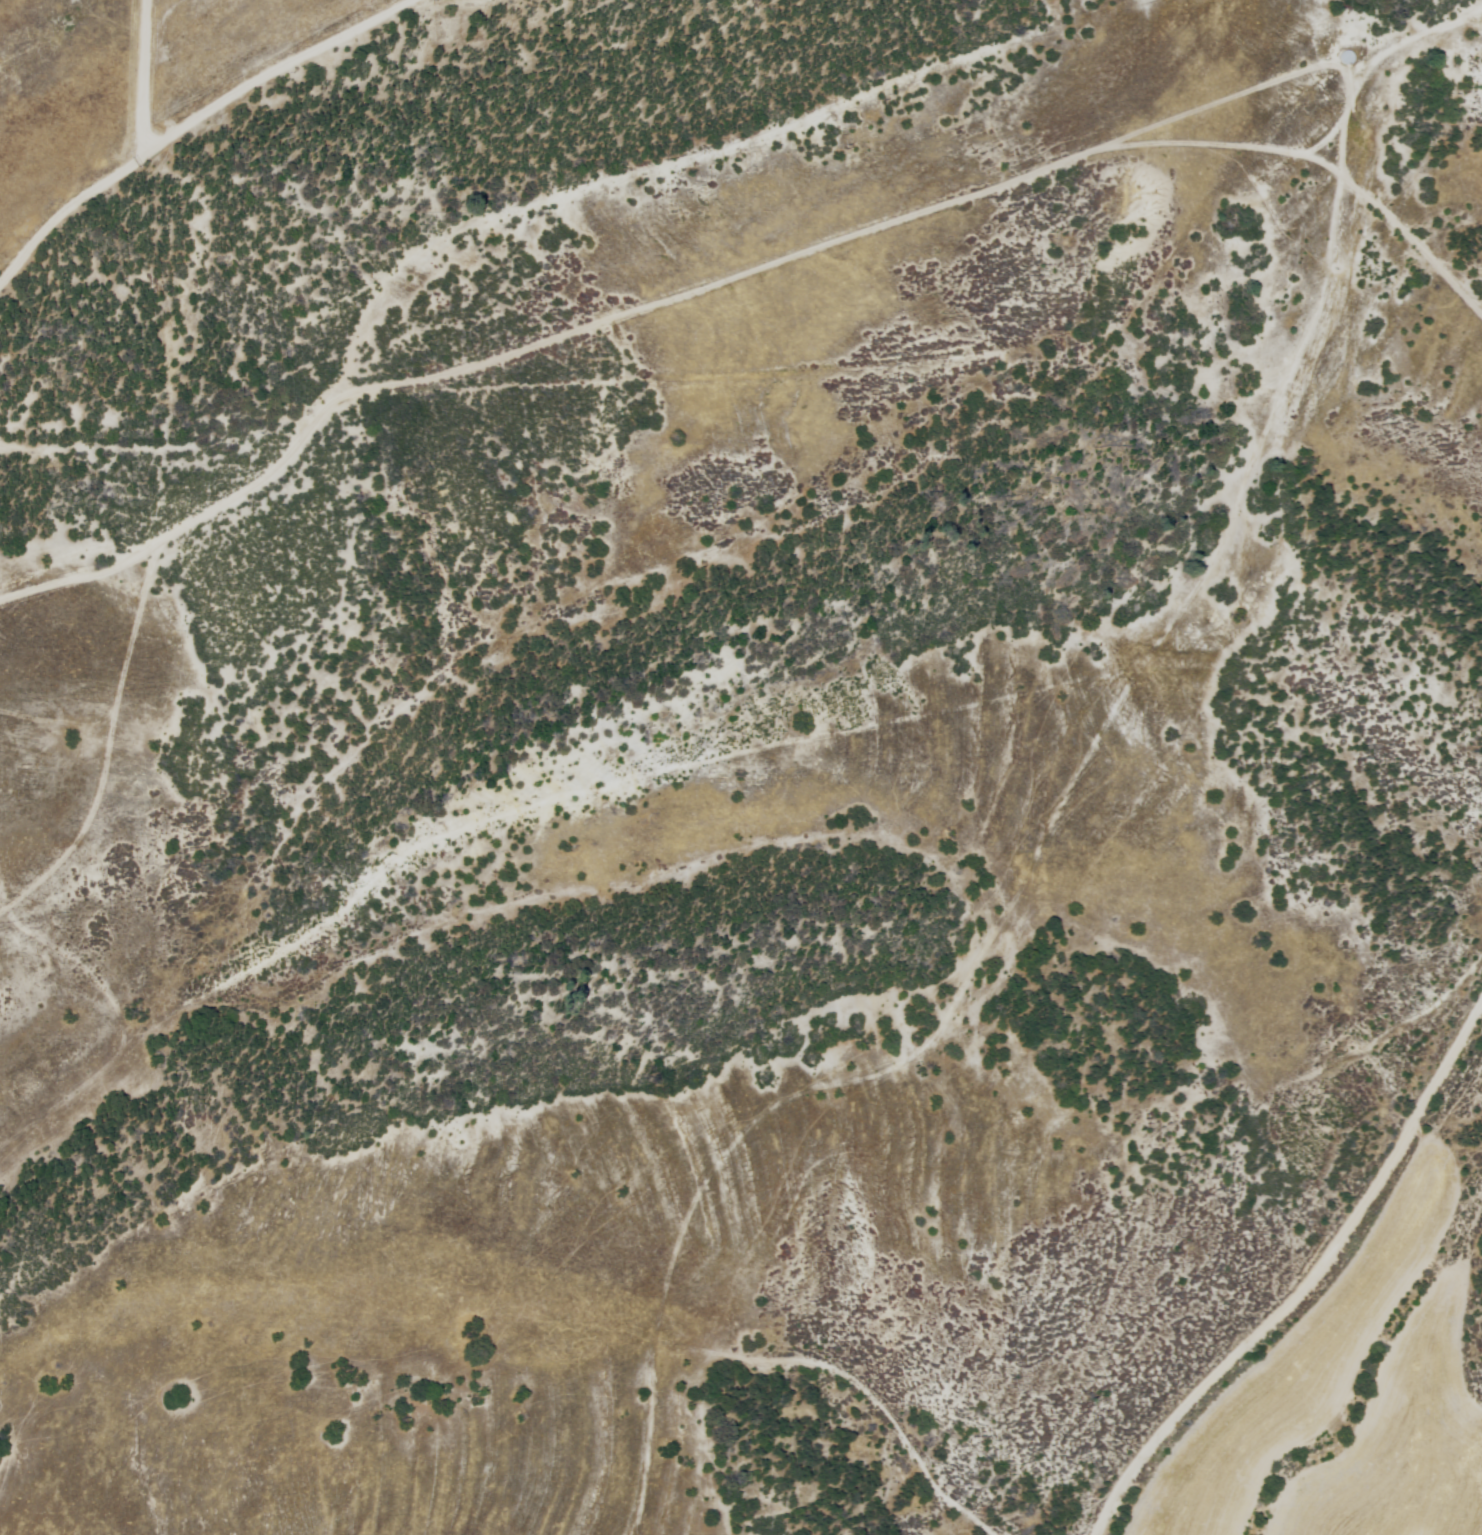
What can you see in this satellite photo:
road: (142, 78)
road: (194, 120)
road: (1387, 213)
road: (745, 256)
road: (1302, 1283)

